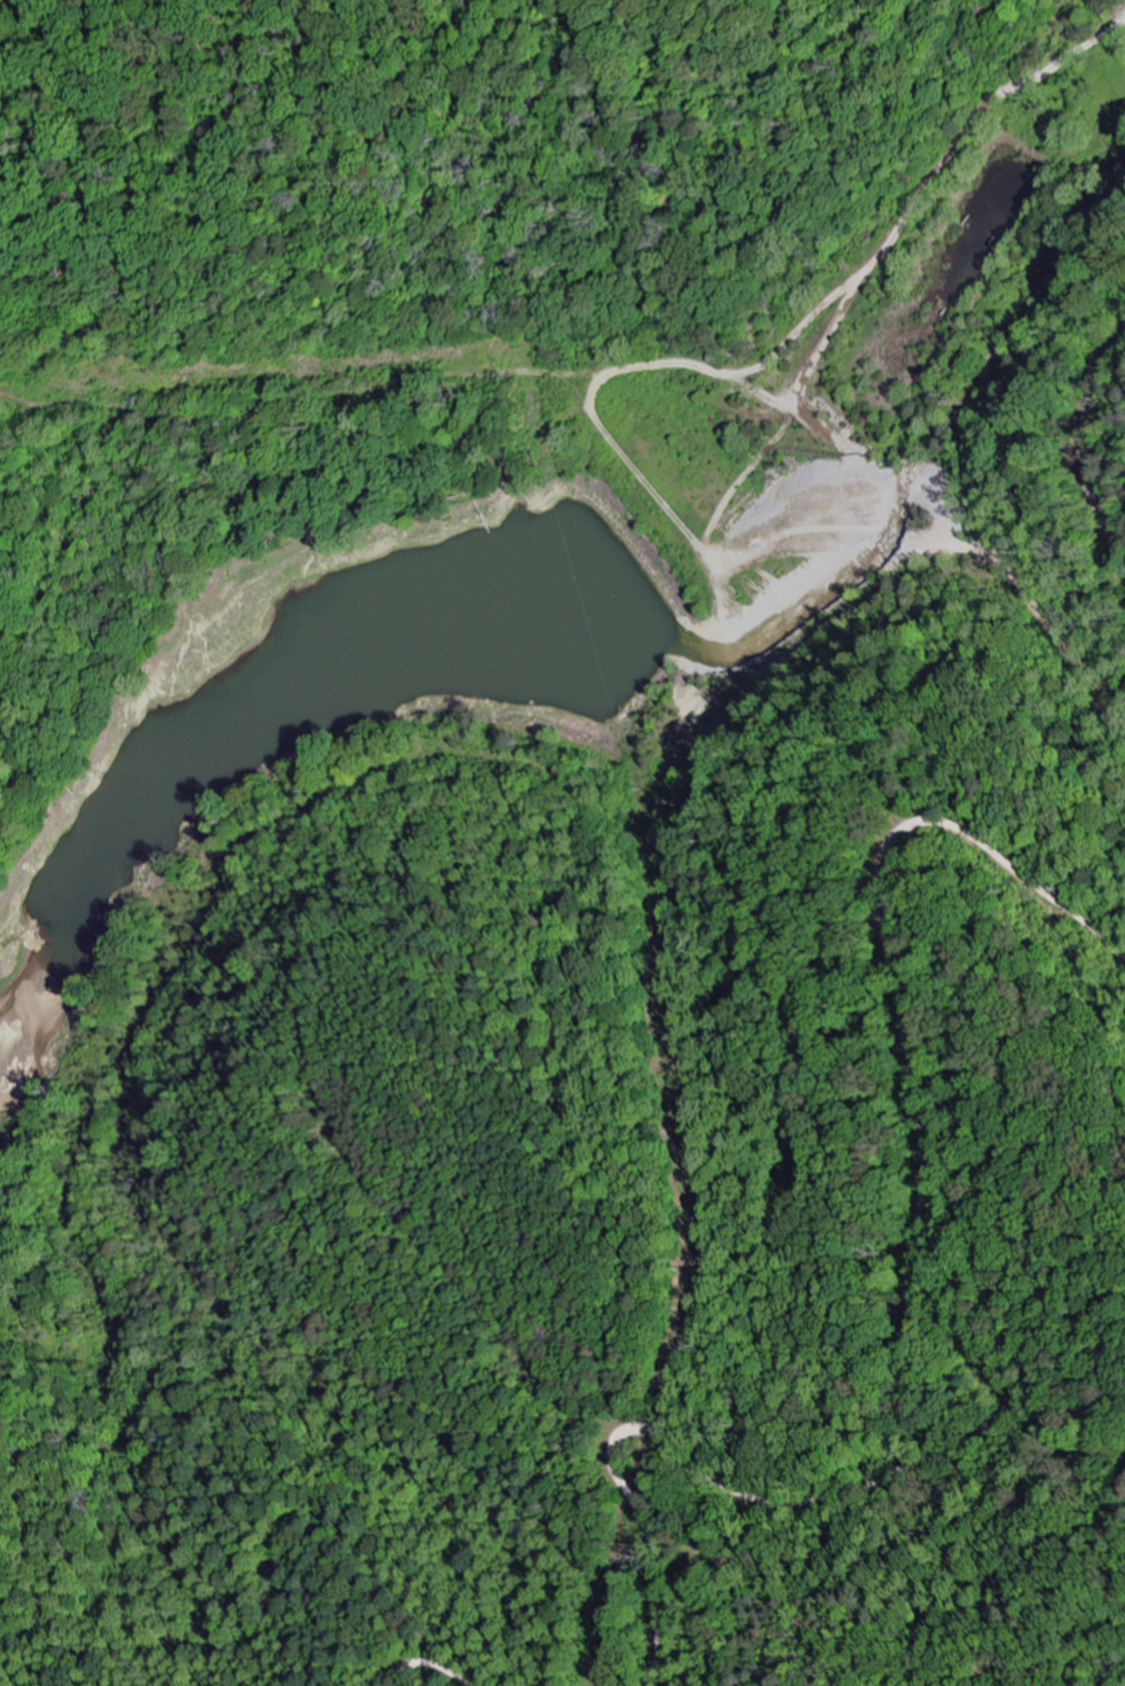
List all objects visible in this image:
dam: (673, 571)

